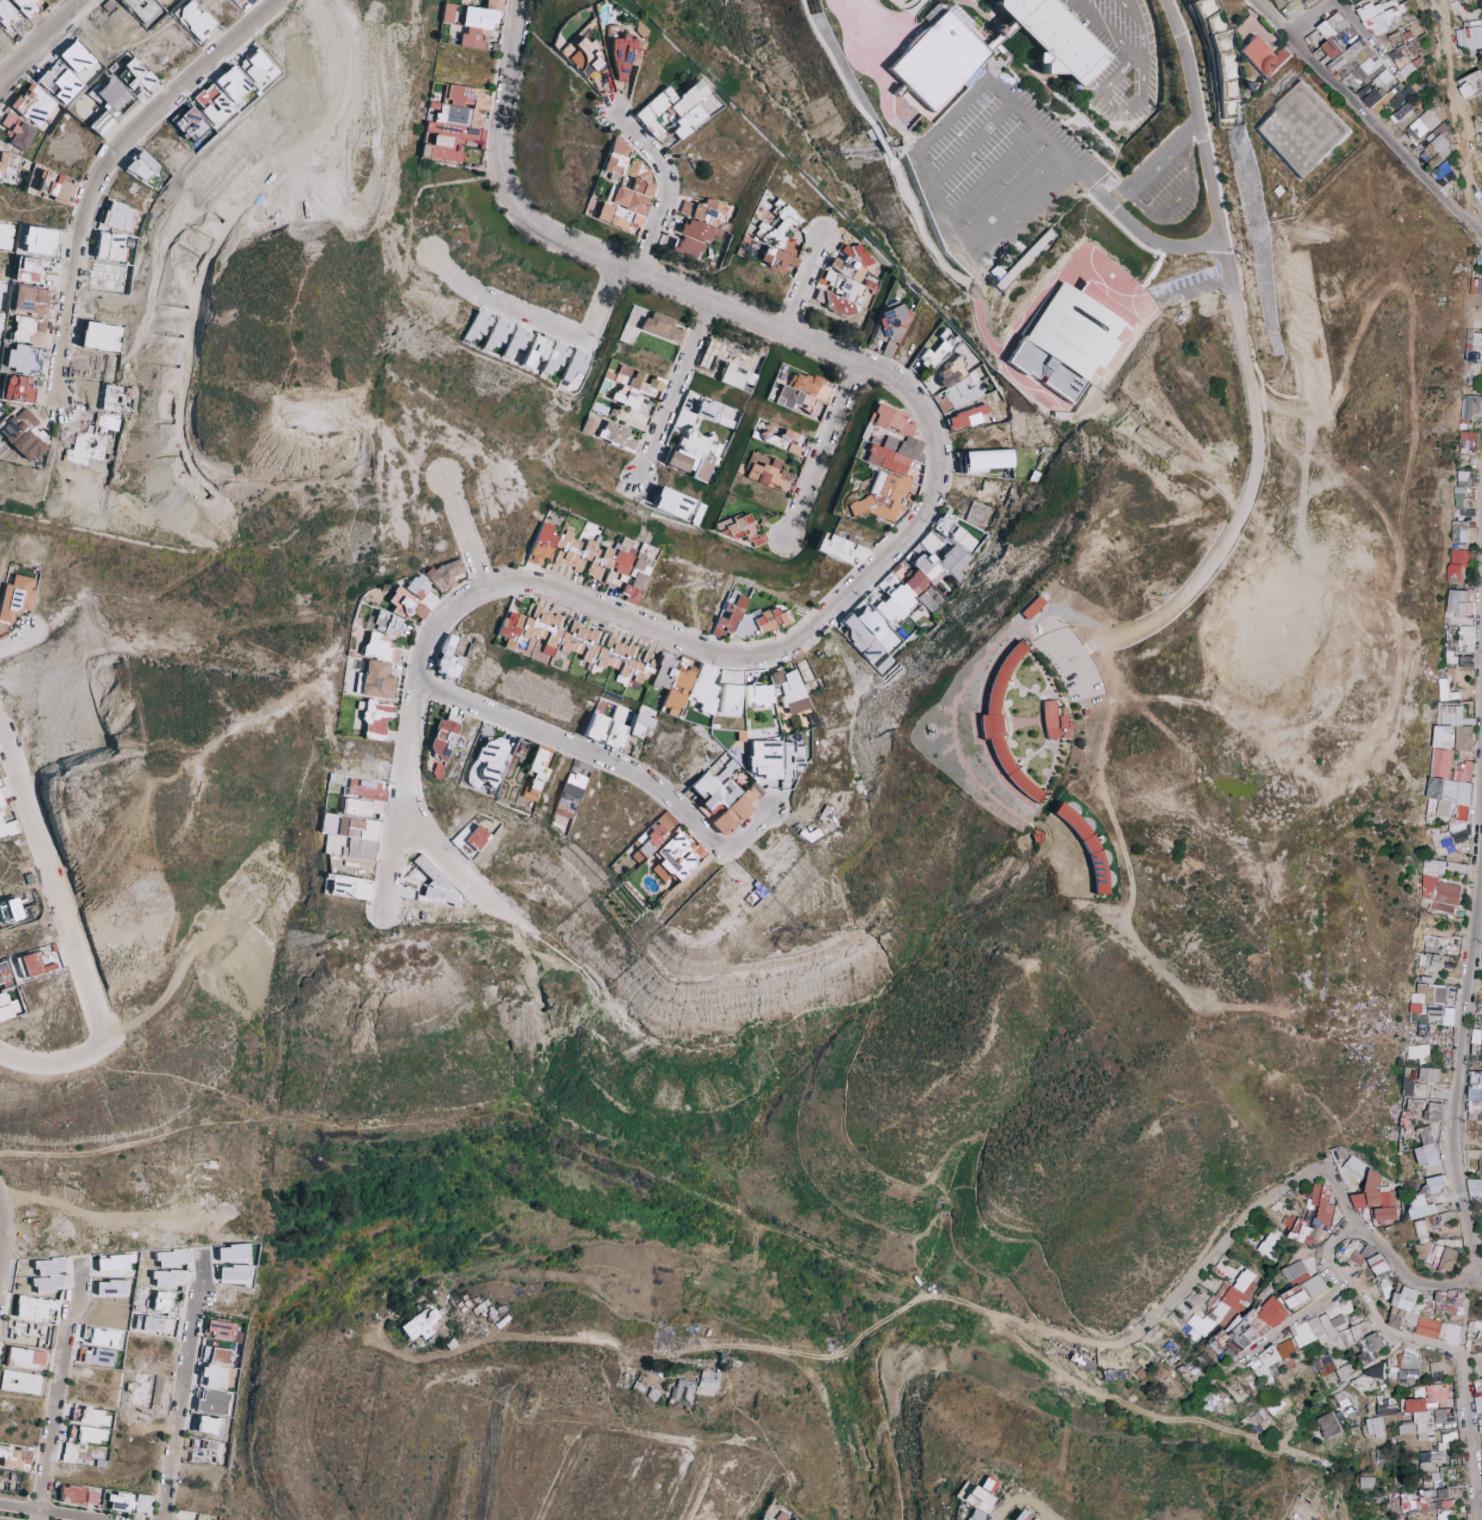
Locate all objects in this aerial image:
parking lot: (1115, 62)
parking lot: (1026, 167)

